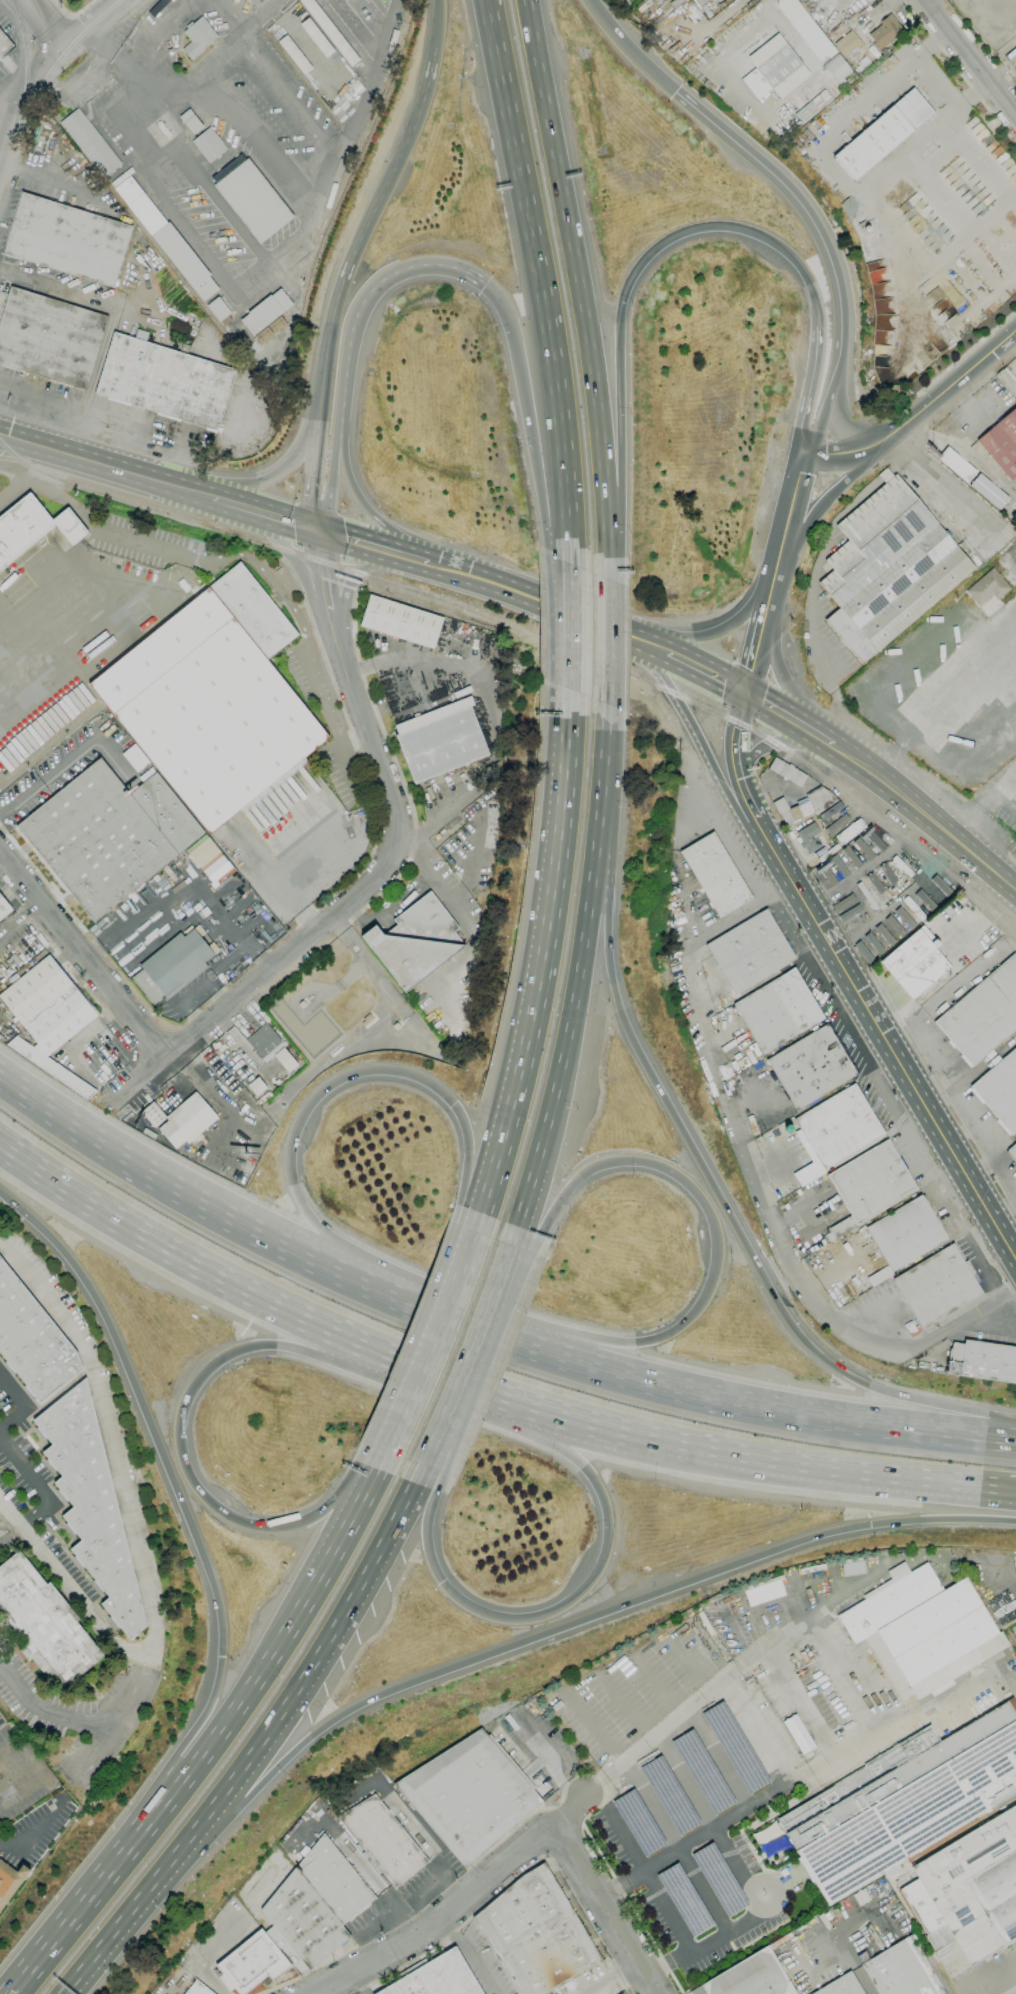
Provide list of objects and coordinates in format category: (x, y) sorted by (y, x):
road: (437, 4)
building: (621, 4)
road: (770, 6)
road: (73, 14)
road: (233, 15)
road: (71, 17)
road: (38, 25)
road: (90, 25)
road: (168, 30)
building: (330, 31)
building: (886, 32)
road: (65, 34)
building: (198, 36)
building: (812, 36)
building: (317, 38)
building: (848, 44)
building: (5, 46)
road: (631, 47)
road: (373, 48)
road: (114, 49)
road: (226, 49)
building: (295, 55)
road: (971, 57)
building: (837, 68)
building: (772, 72)
road: (959, 73)
road: (11, 81)
road: (158, 81)
road: (75, 82)
traffic signals: (678, 90)
railway: (23, 92)
road: (285, 96)
road: (19, 101)
road: (361, 105)
flagpole: (82, 107)
building: (814, 107)
road: (762, 116)
building: (191, 122)
building: (884, 134)
road: (261, 135)
building: (90, 143)
building: (209, 145)
road: (9, 167)
road: (838, 168)
building: (122, 177)
road: (62, 184)
road: (153, 186)
road: (380, 197)
road: (217, 199)
building: (253, 201)
road: (814, 218)
road: (301, 233)
building: (68, 239)
building: (167, 239)
road: (575, 260)
road: (931, 262)
road: (630, 277)
road: (541, 279)
traffic signals: (484, 283)
road: (57, 288)
road: (368, 296)
building: (219, 311)
building: (266, 312)
building: (271, 329)
building: (49, 337)
road: (966, 353)
building: (1008, 379)
road: (93, 380)
building: (165, 380)
road: (809, 385)
road: (953, 386)
road: (42, 398)
road: (232, 406)
road: (528, 421)
road: (853, 429)
road: (819, 432)
building: (1002, 443)
road: (846, 452)
road: (313, 457)
road: (281, 467)
road: (115, 468)
road: (332, 476)
road: (25, 477)
road: (833, 491)
road: (60, 498)
road: (359, 498)
road: (954, 500)
road: (273, 516)
road: (786, 526)
building: (32, 527)
traffic signals: (316, 529)
road: (364, 543)
road: (150, 544)
road: (607, 551)
road: (293, 558)
road: (420, 560)
building: (888, 569)
road: (269, 577)
road: (348, 580)
road: (104, 583)
building: (988, 587)
road: (549, 606)
road: (22, 612)
building: (402, 622)
road: (571, 625)
road: (707, 628)
railway: (534, 637)
road: (607, 641)
road: (758, 641)
road: (436, 660)
road: (707, 673)
road: (786, 673)
traffic signals: (746, 692)
road: (944, 695)
building: (215, 700)
road: (330, 715)
road: (789, 718)
road: (699, 737)
road: (354, 739)
building: (441, 740)
road: (778, 744)
road: (358, 752)
building: (134, 757)
road: (69, 760)
road: (737, 766)
road: (400, 771)
building: (787, 772)
road: (601, 777)
building: (805, 805)
building: (831, 811)
road: (926, 815)
road: (439, 817)
building: (838, 824)
building: (850, 831)
building: (109, 835)
building: (809, 838)
building: (875, 841)
road: (731, 848)
building: (864, 848)
building: (852, 857)
road: (1012, 858)
building: (210, 860)
road: (256, 860)
road: (469, 862)
road: (1, 865)
building: (839, 866)
building: (902, 866)
road: (384, 867)
road: (593, 867)
building: (888, 873)
road: (296, 874)
building: (716, 875)
building: (827, 875)
road: (920, 878)
road: (188, 885)
building: (941, 885)
road: (52, 890)
building: (926, 900)
road: (997, 900)
building: (843, 903)
building: (4, 908)
road: (387, 909)
road: (460, 913)
building: (849, 913)
building: (905, 917)
road: (18, 922)
road: (726, 922)
building: (895, 926)
building: (885, 934)
building: (416, 941)
building: (874, 943)
road: (816, 950)
road: (240, 951)
building: (750, 952)
building: (864, 952)
road: (544, 954)
road: (362, 955)
road: (953, 959)
road: (80, 960)
building: (916, 963)
building: (173, 966)
flagpole: (884, 974)
road: (194, 989)
road: (881, 996)
building: (778, 1010)
road: (838, 1013)
building: (983, 1014)
road: (897, 1016)
building: (49, 1017)
road: (569, 1026)
road: (90, 1029)
building: (266, 1042)
road: (239, 1046)
road: (889, 1049)
building: (285, 1060)
road: (882, 1062)
building: (812, 1067)
road: (369, 1070)
road: (214, 1082)
building: (256, 1086)
building: (1000, 1090)
road: (887, 1097)
traffic signals: (458, 1107)
building: (182, 1120)
road: (915, 1120)
road: (977, 1127)
building: (834, 1131)
road: (960, 1133)
building: (1013, 1150)
road: (982, 1156)
road: (132, 1168)
road: (979, 1168)
building: (870, 1185)
road: (727, 1204)
road: (523, 1206)
road: (1003, 1211)
road: (711, 1217)
road: (476, 1222)
building: (905, 1233)
road: (774, 1234)
road: (1, 1243)
road: (330, 1252)
road: (181, 1256)
road: (307, 1260)
road: (461, 1264)
road: (993, 1265)
building: (878, 1275)
building: (937, 1286)
road: (443, 1317)
building: (32, 1339)
road: (474, 1344)
traffic signals: (220, 1360)
building: (983, 1361)
road: (417, 1375)
road: (449, 1376)
road: (22, 1404)
road: (779, 1413)
road: (1002, 1424)
road: (180, 1432)
road: (428, 1454)
road: (767, 1461)
road: (373, 1472)
parking lot: (29, 1479)
road: (38, 1485)
road: (176, 1489)
road: (425, 1491)
building: (92, 1504)
traffic signals: (872, 1526)
road: (342, 1536)
road: (138, 1545)
road: (578, 1592)
building: (764, 1592)
road: (595, 1618)
building: (43, 1624)
building: (925, 1631)
road: (324, 1643)
road: (742, 1668)
road: (242, 1700)
road: (803, 1705)
road: (77, 1718)
road: (760, 1731)
building: (799, 1735)
road: (547, 1757)
building: (470, 1795)
road: (772, 1796)
building: (903, 1801)
road: (520, 1824)
building: (384, 1840)
road: (519, 1876)
building: (10, 1881)
building: (335, 1881)
building: (969, 1890)
road: (615, 1891)
road: (706, 1893)
road: (136, 1902)
road: (629, 1902)
road: (457, 1904)
road: (83, 1905)
road: (610, 1911)
building: (302, 1924)
building: (536, 1934)
road: (729, 1936)
road: (469, 1955)
road: (338, 1956)
road: (668, 1960)
building: (252, 1963)
building: (903, 1971)
road: (608, 1975)
building: (436, 1977)
building: (751, 1977)
road: (356, 1982)
road: (865, 1984)
building: (842, 1986)
building: (199, 1989)
road: (1010, 1990)

